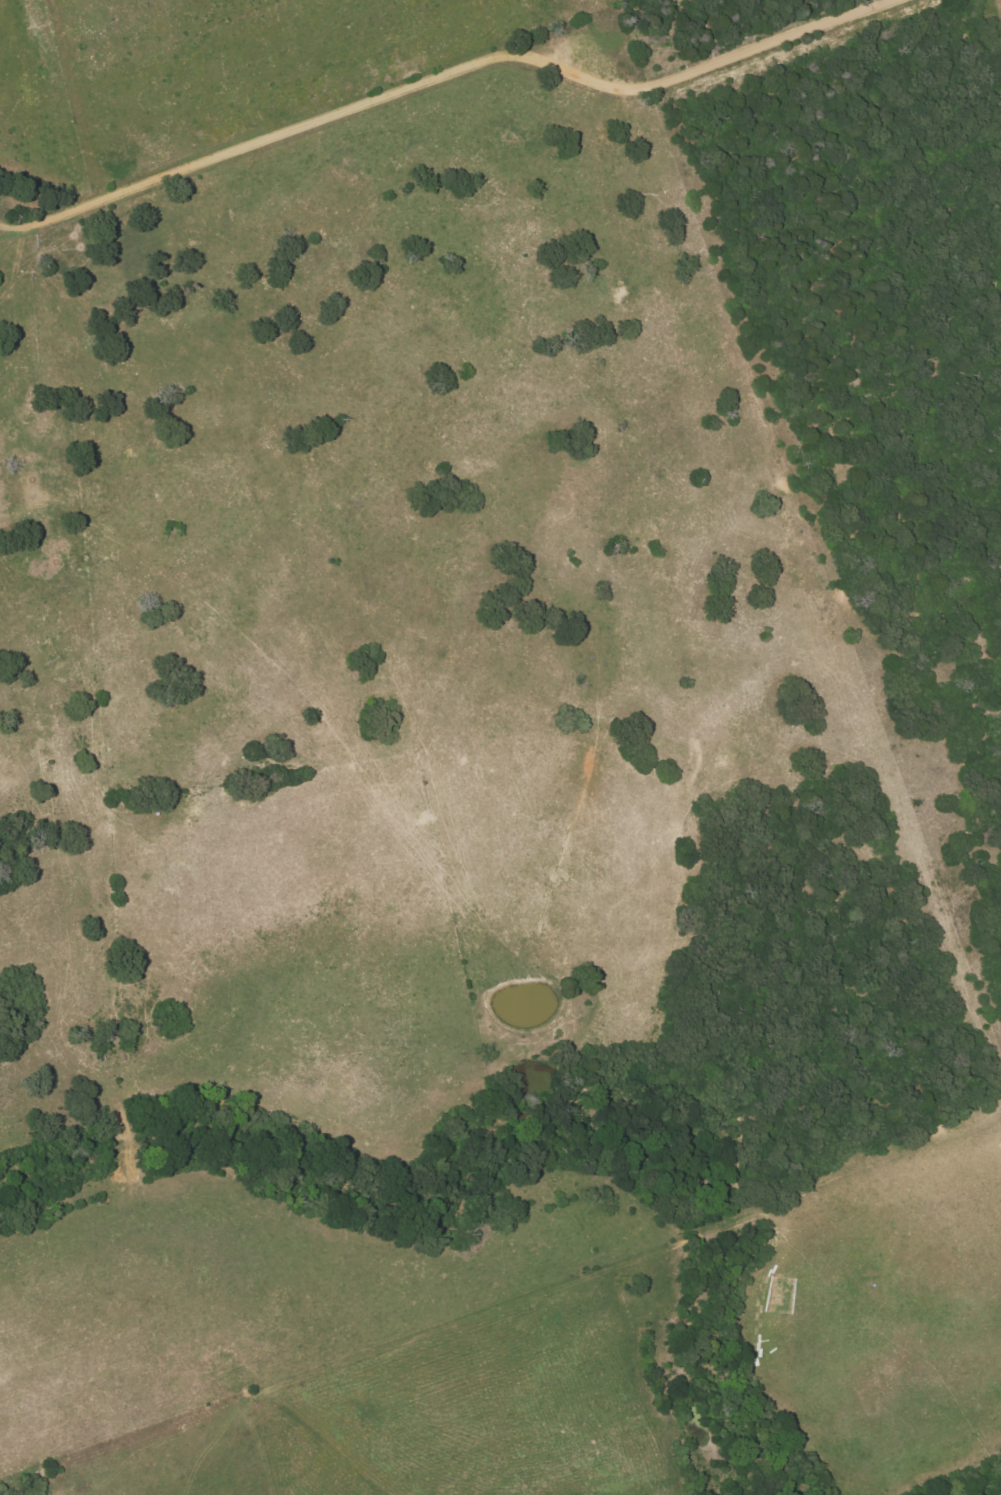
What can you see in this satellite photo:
road: (451, 71)
road: (961, 129)

